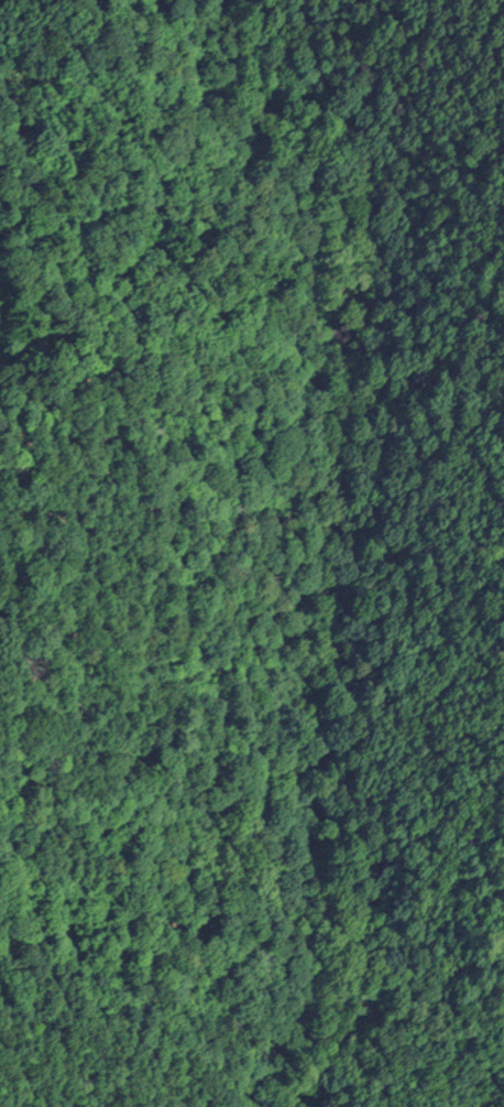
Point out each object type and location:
road: (337, 533)

